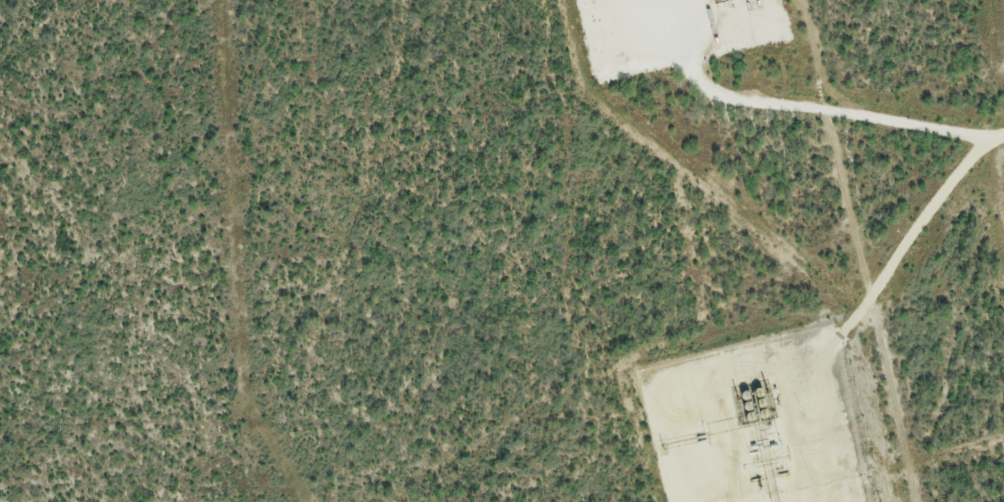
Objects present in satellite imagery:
road: (803, 116)
road: (830, 342)

